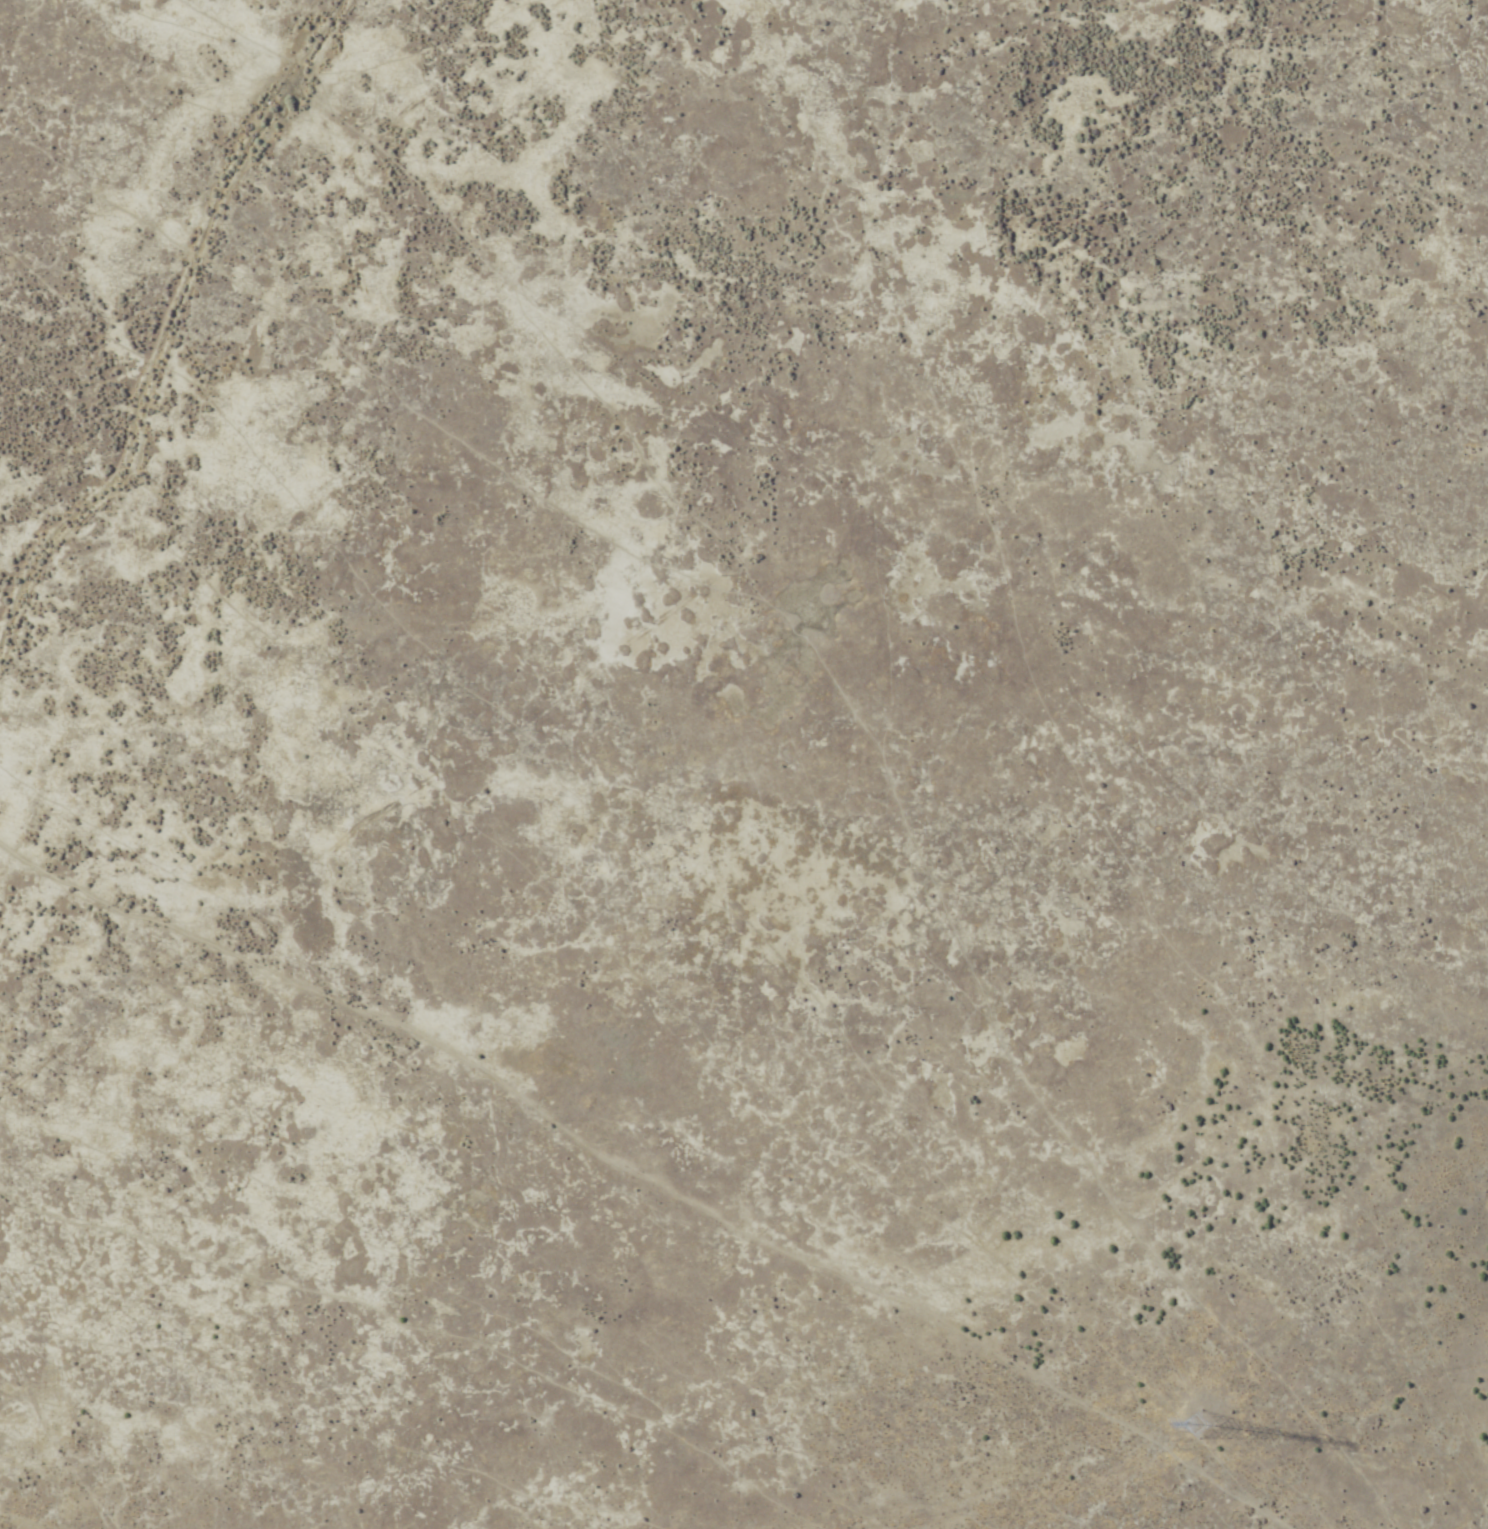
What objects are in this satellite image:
power tower: (1216, 1419)

